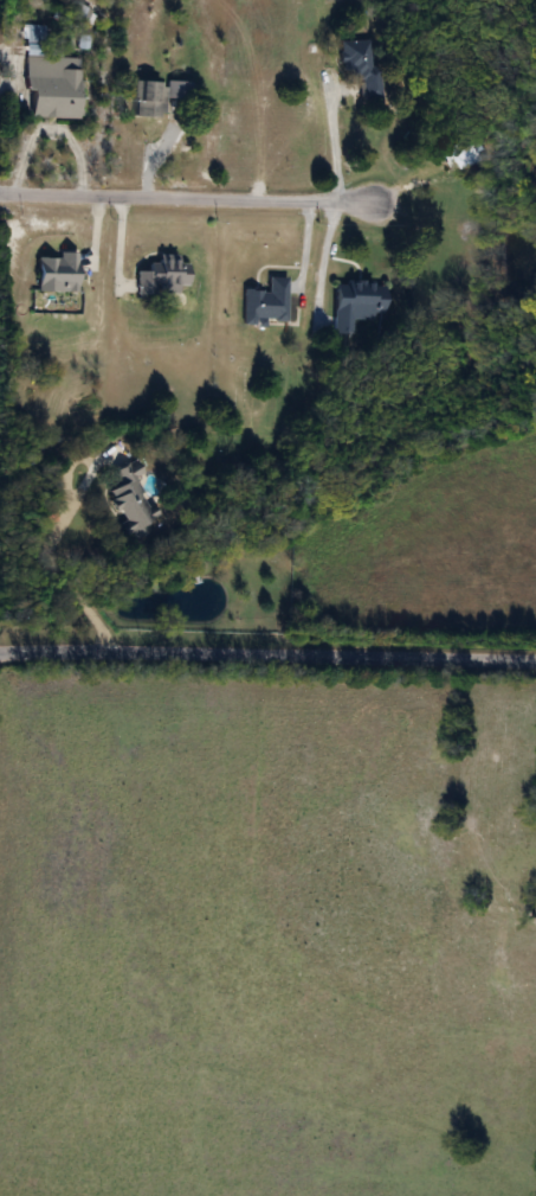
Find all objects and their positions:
building: (366, 66)
building: (49, 78)
building: (156, 95)
road: (50, 130)
road: (334, 146)
building: (459, 155)
road: (187, 198)
building: (57, 273)
building: (161, 276)
building: (265, 302)
building: (356, 302)
building: (129, 499)
road: (52, 557)
road: (267, 657)

